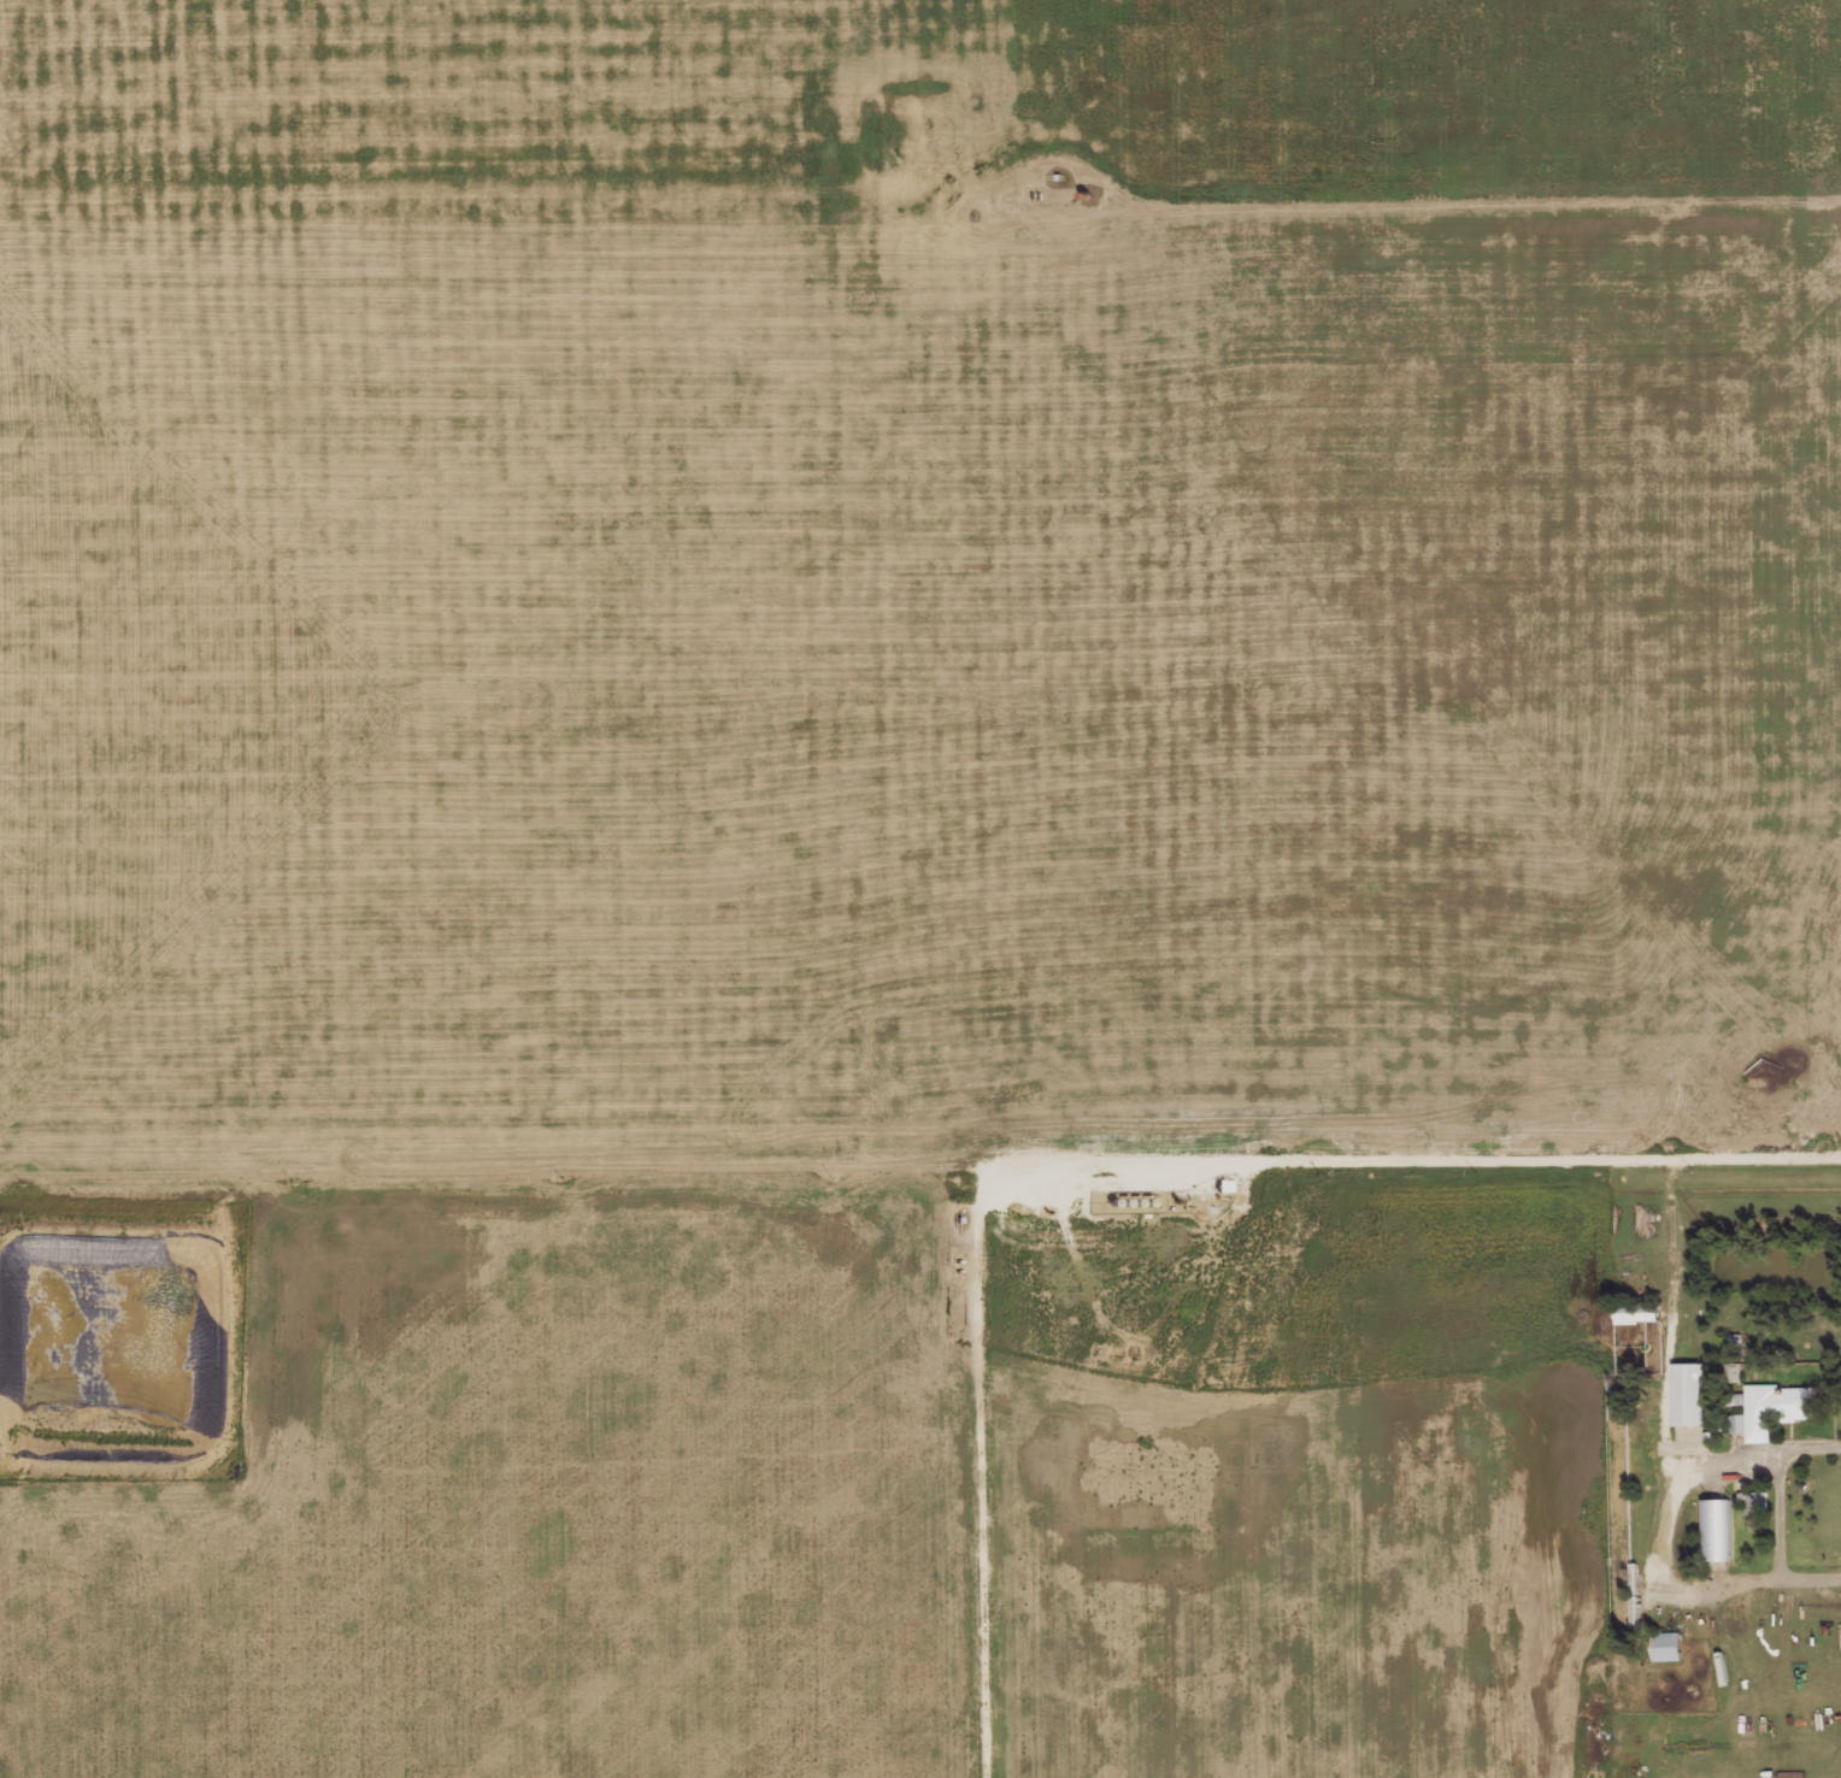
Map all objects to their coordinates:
road: (1784, 1301)
building: (1681, 1393)
building: (1751, 1501)
building: (1713, 1529)

